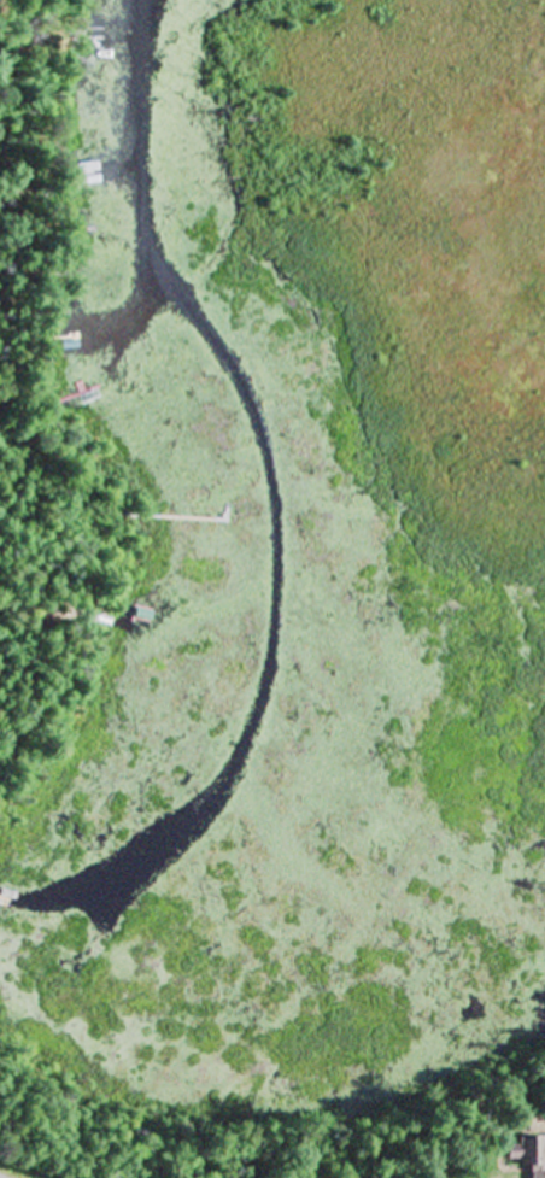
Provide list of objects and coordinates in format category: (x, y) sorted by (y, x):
building: (522, 1151)
building: (534, 1174)

